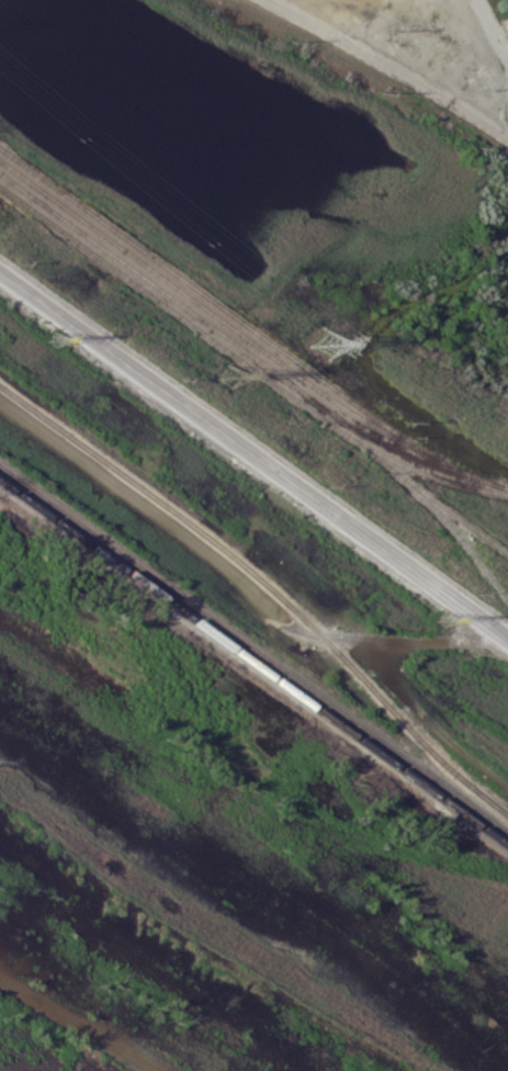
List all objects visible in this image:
road: (492, 27)
road: (392, 66)
railway: (187, 318)
power tower: (54, 339)
power tower: (327, 343)
power tower: (228, 375)
road: (253, 452)
railway: (424, 471)
railway: (451, 510)
railway: (445, 520)
railway: (222, 544)
power tower: (445, 620)
railway: (253, 649)
railway: (253, 663)
railway: (461, 777)

